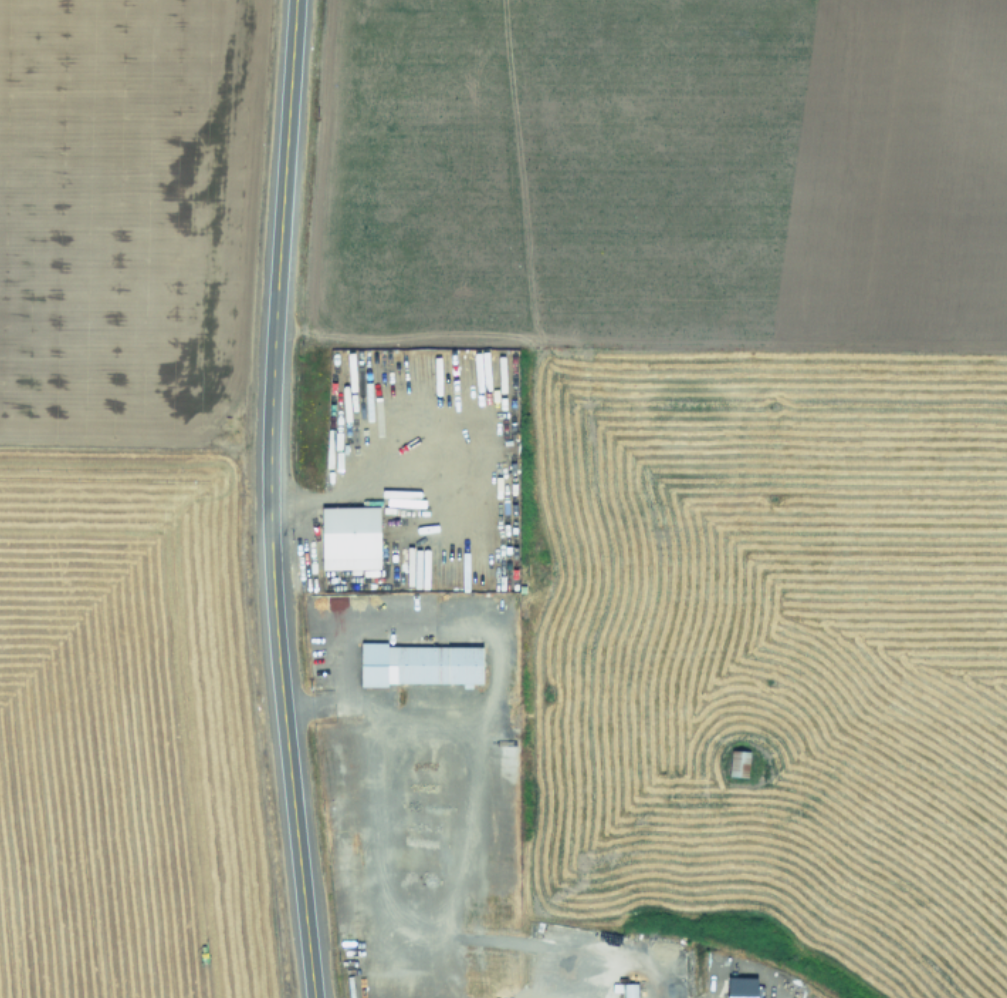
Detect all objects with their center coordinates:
crop: (740, 451)
road: (268, 499)
crop: (103, 510)
building: (349, 537)
building: (419, 663)
building: (501, 745)
building: (738, 762)
building: (629, 990)

